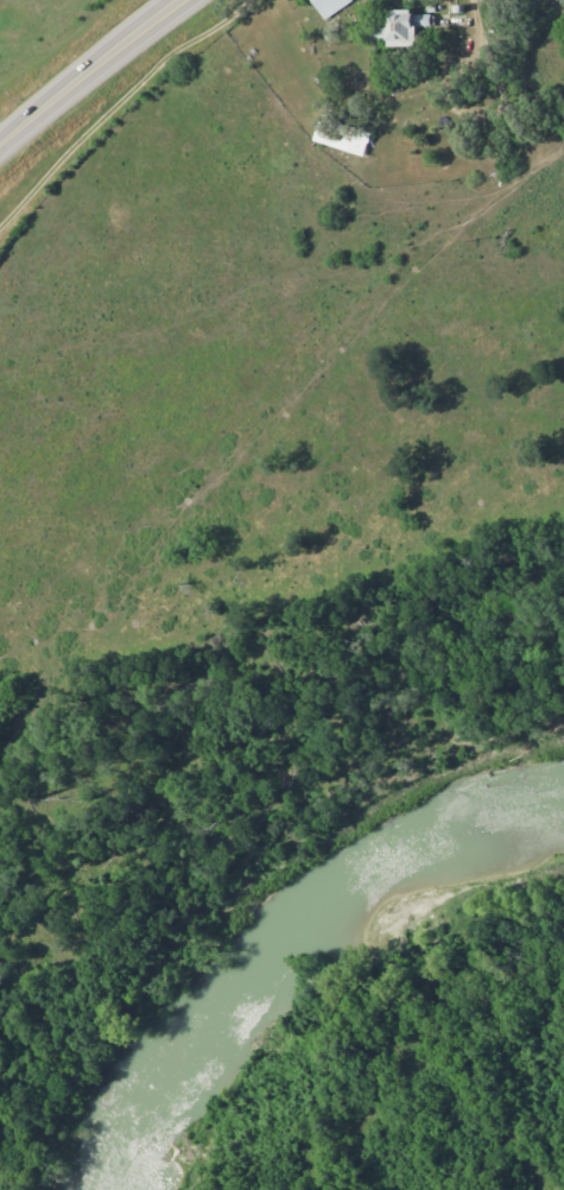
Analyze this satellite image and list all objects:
building: (330, 6)
building: (403, 29)
road: (87, 71)
road: (178, 236)
river: (290, 954)

